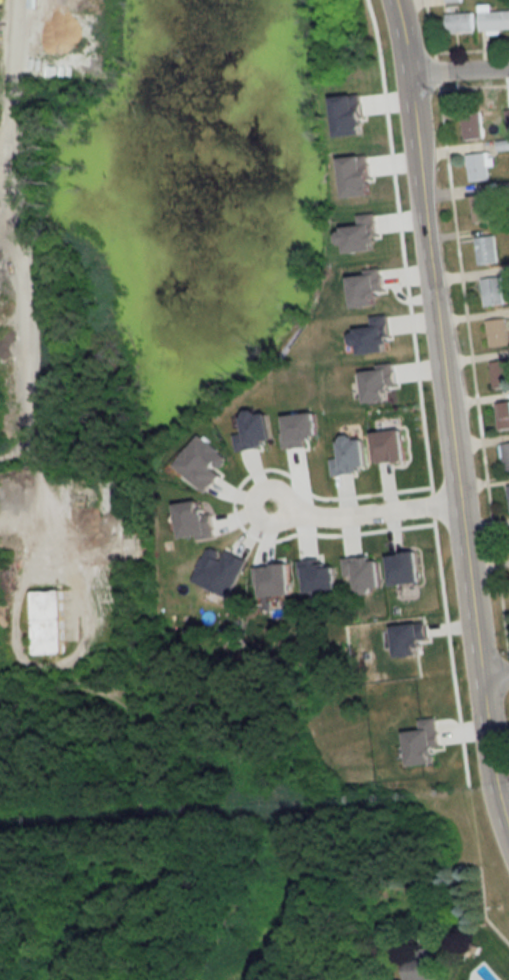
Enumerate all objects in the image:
building: (493, 19)
building: (458, 21)
road: (457, 71)
building: (472, 126)
building: (478, 166)
building: (505, 188)
building: (481, 209)
road: (30, 242)
building: (486, 250)
building: (492, 291)
building: (497, 332)
road: (466, 333)
building: (500, 374)
building: (502, 416)
road: (451, 428)
building: (505, 456)
road: (431, 475)
building: (508, 490)
road: (364, 514)
building: (16, 554)
building: (47, 623)
road: (494, 675)
road: (44, 710)
road: (138, 783)
park: (146, 890)
building: (421, 965)

